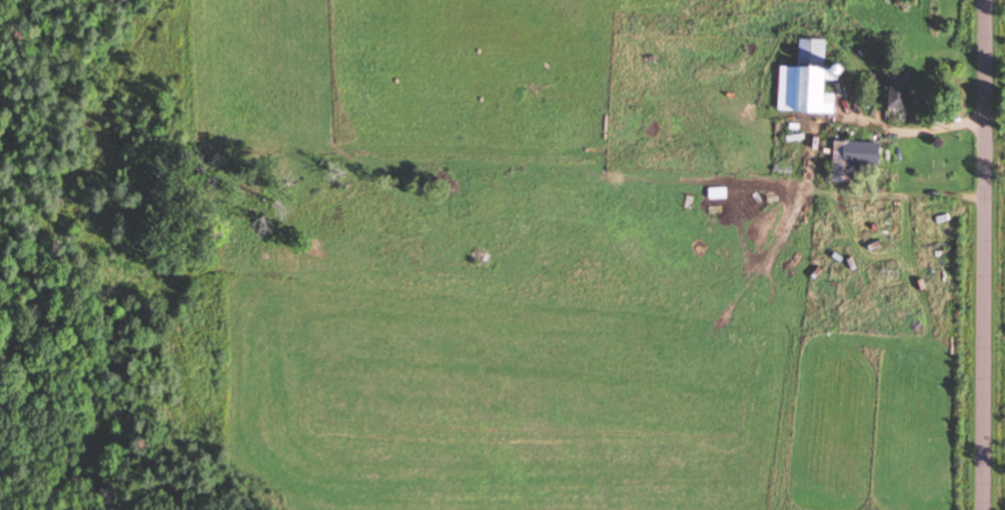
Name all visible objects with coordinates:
building: (813, 76)
building: (903, 91)
building: (856, 159)
road: (990, 255)
building: (867, 292)

